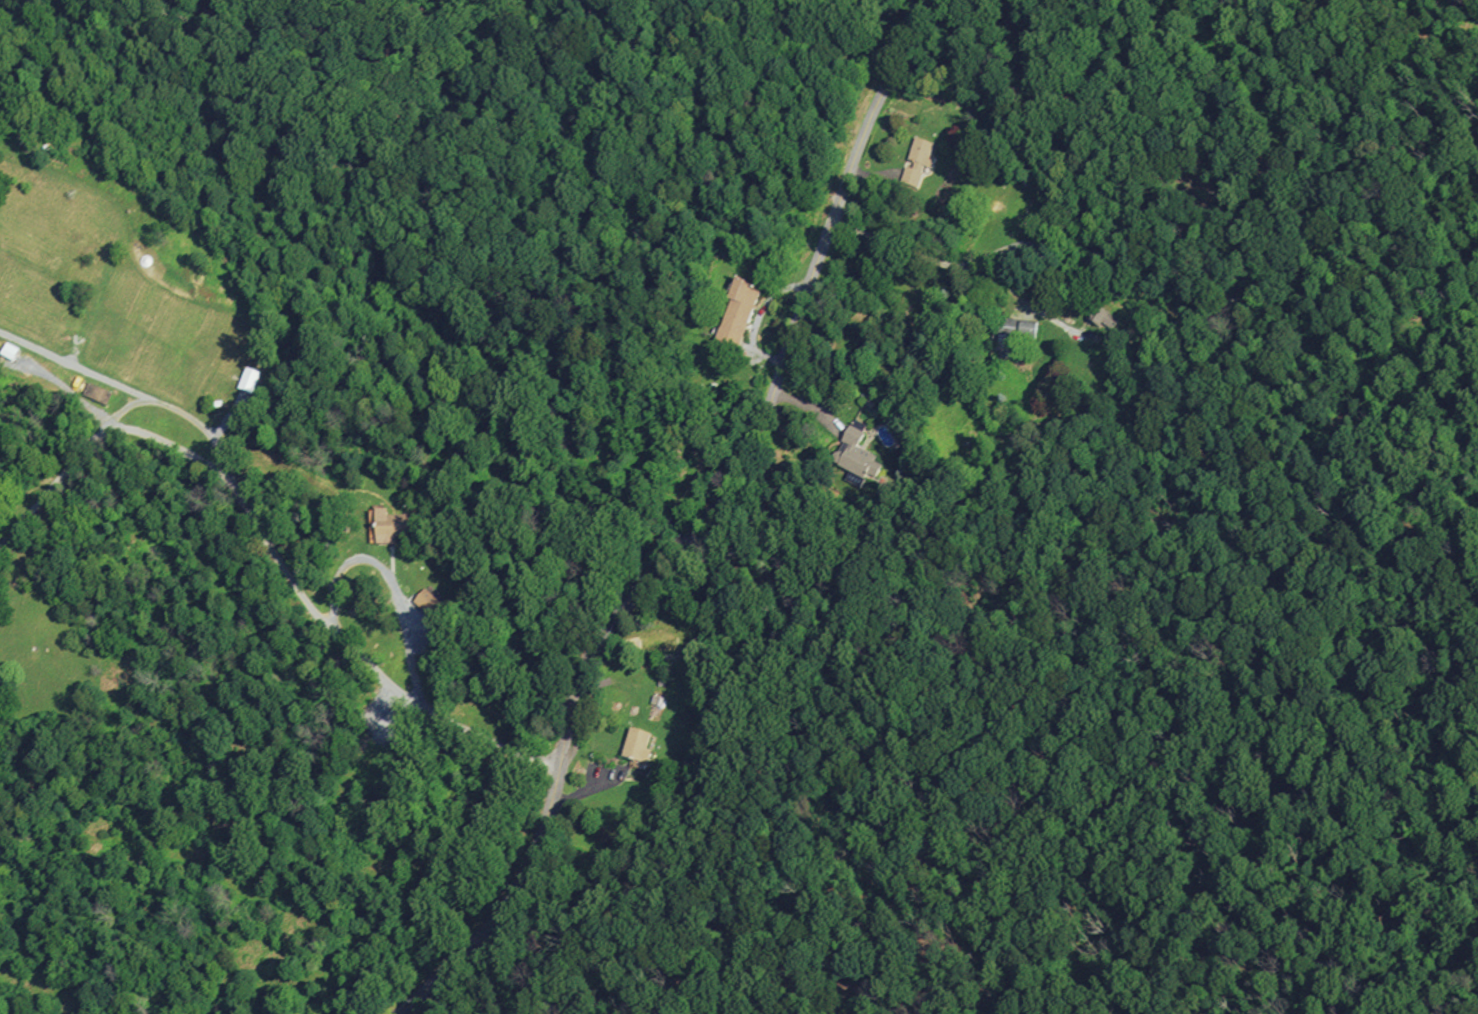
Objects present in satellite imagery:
road: (1463, 12)
building: (920, 164)
road: (871, 176)
road: (981, 260)
building: (736, 310)
building: (1103, 315)
road: (757, 317)
building: (1017, 326)
building: (10, 351)
road: (74, 366)
building: (249, 378)
building: (93, 391)
road: (807, 404)
road: (184, 415)
road: (230, 419)
building: (855, 453)
building: (391, 523)
road: (689, 529)
road: (267, 545)
road: (391, 581)
building: (419, 601)
building: (657, 644)
building: (636, 744)
road: (581, 792)

